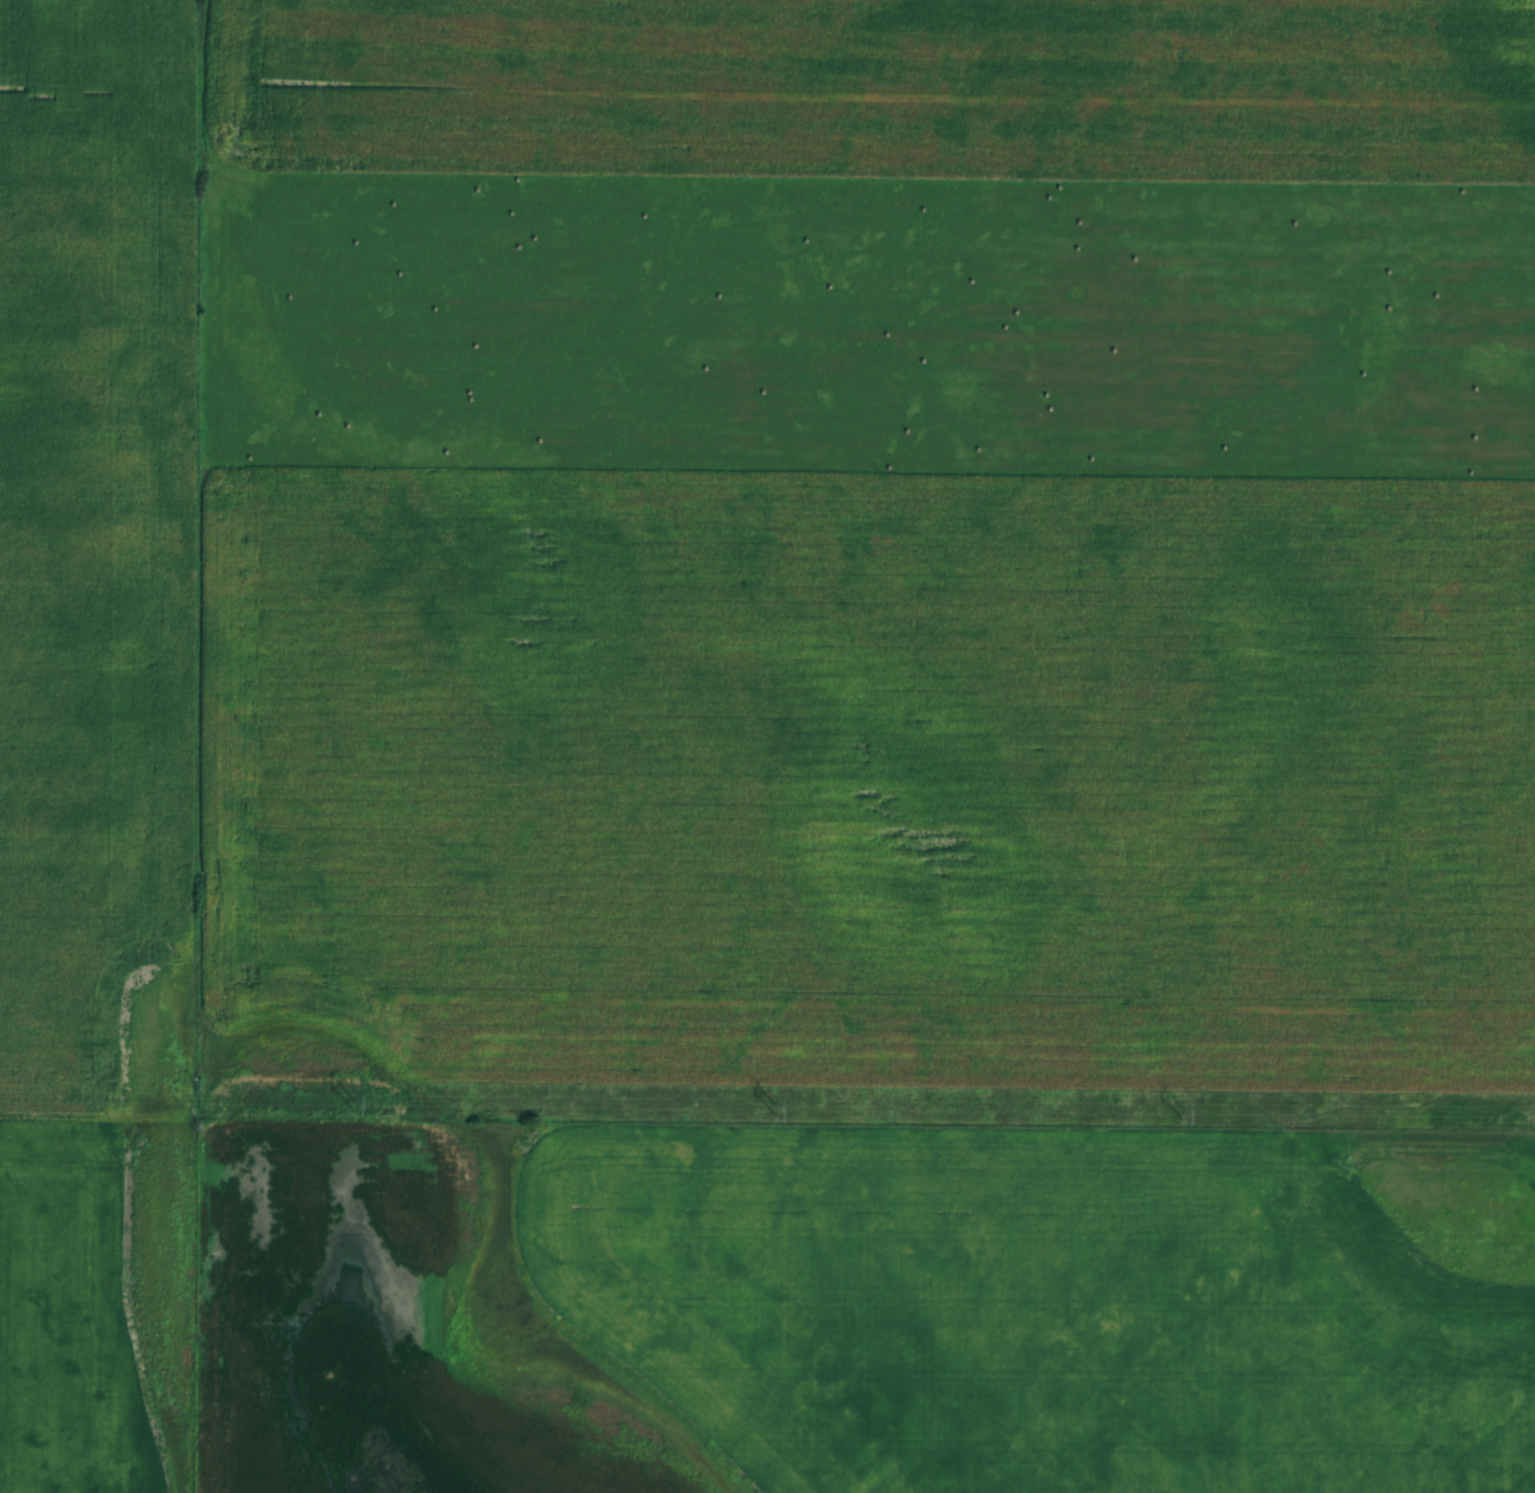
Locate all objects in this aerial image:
power tower: (352, 1105)
power tower: (775, 1110)
power tower: (1181, 1114)

